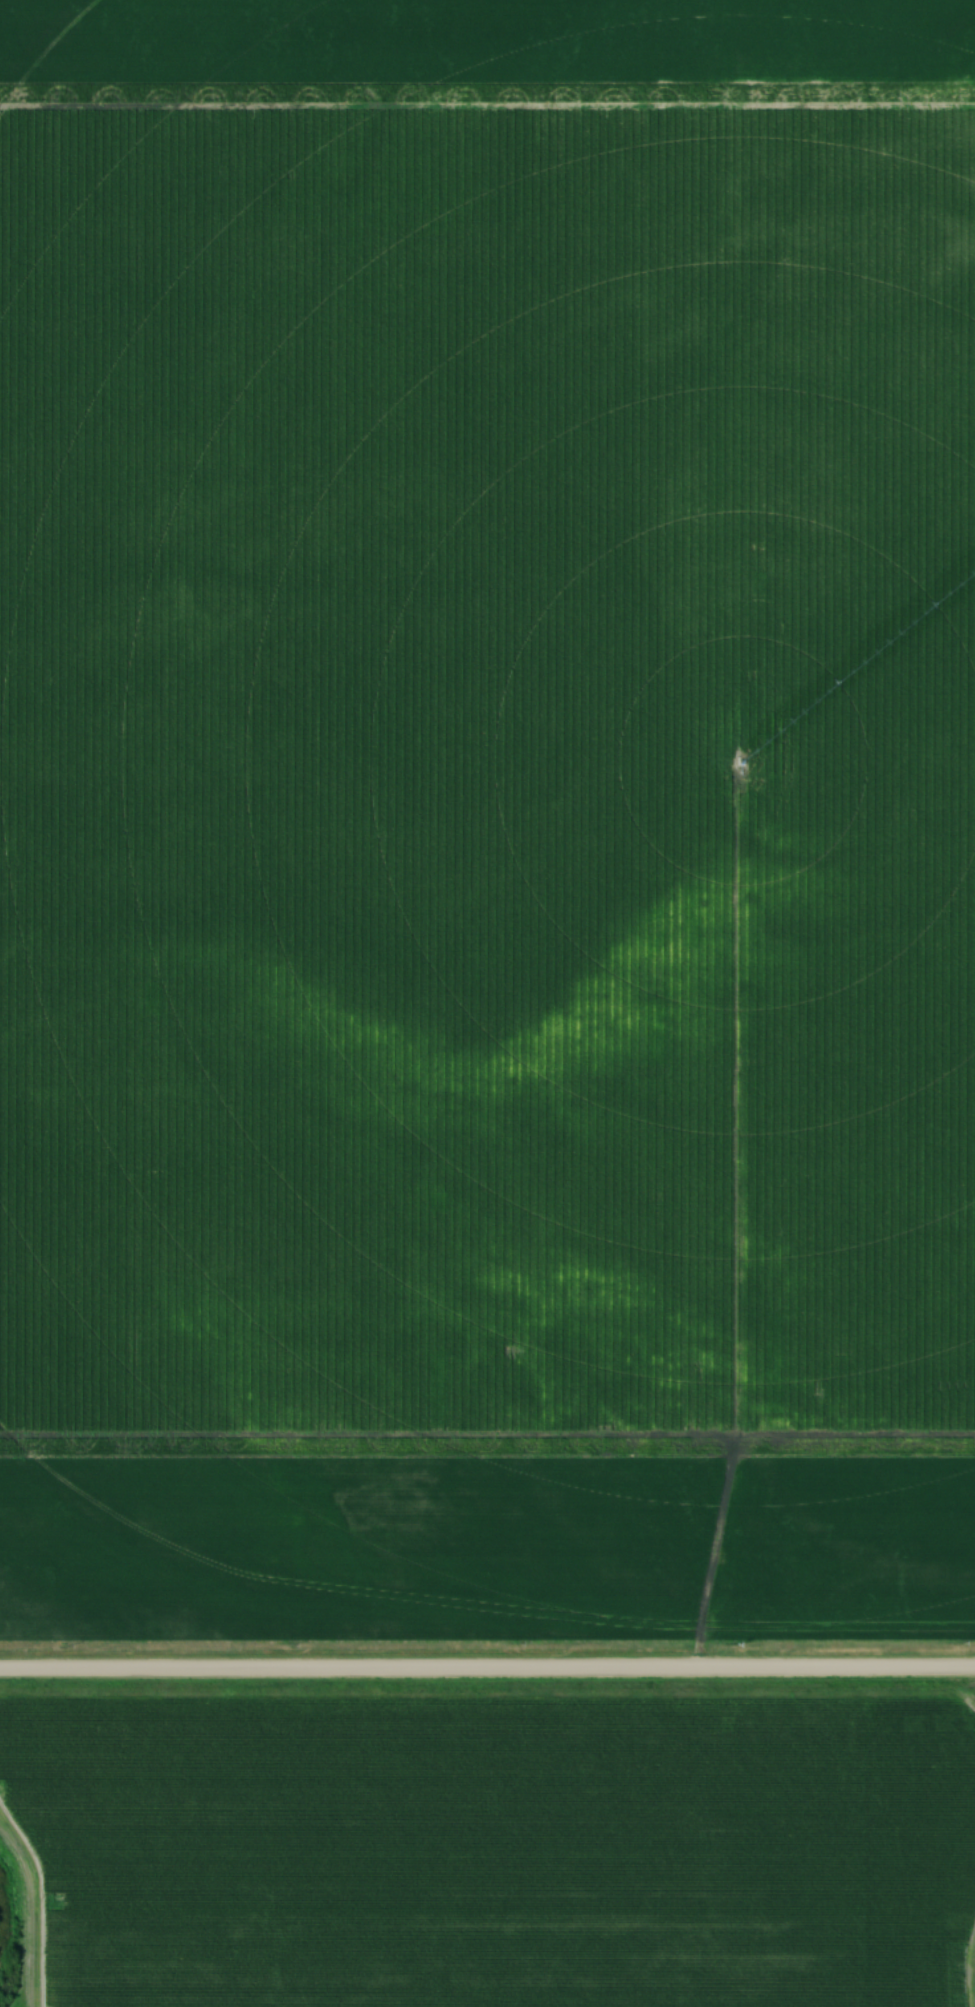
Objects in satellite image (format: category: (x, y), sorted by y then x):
road: (487, 1673)

